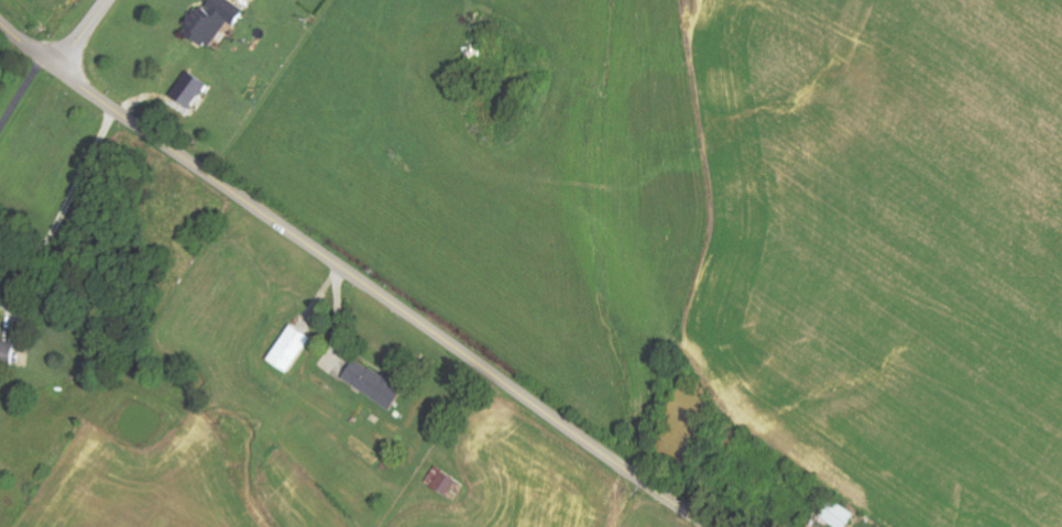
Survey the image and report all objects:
building: (218, 21)
road: (83, 34)
road: (28, 46)
building: (191, 89)
road: (22, 96)
road: (65, 213)
road: (382, 296)
building: (294, 349)
building: (7, 353)
building: (377, 384)
building: (446, 482)
building: (841, 514)

